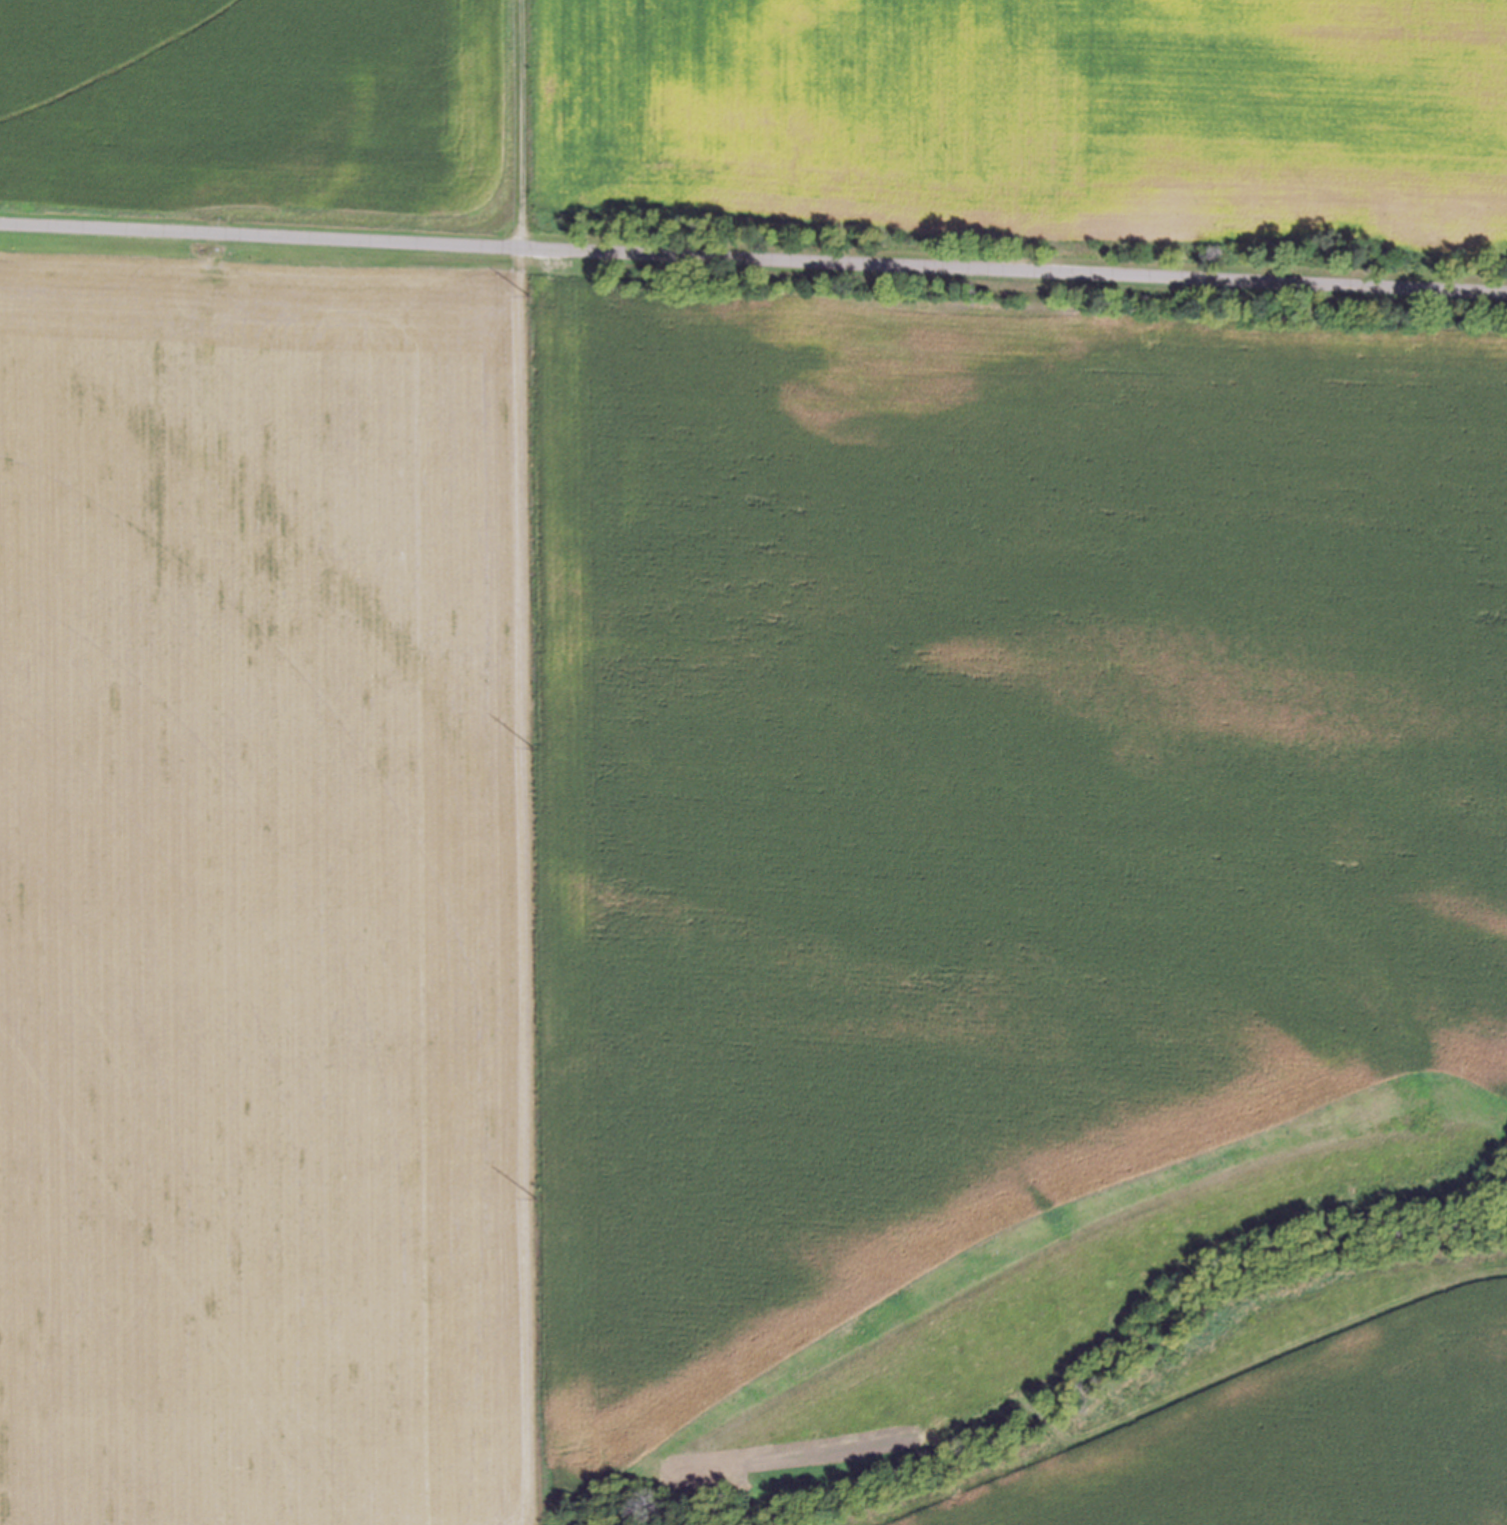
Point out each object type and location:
road: (753, 256)
power tower: (527, 293)
power tower: (530, 746)
power tower: (534, 1196)

